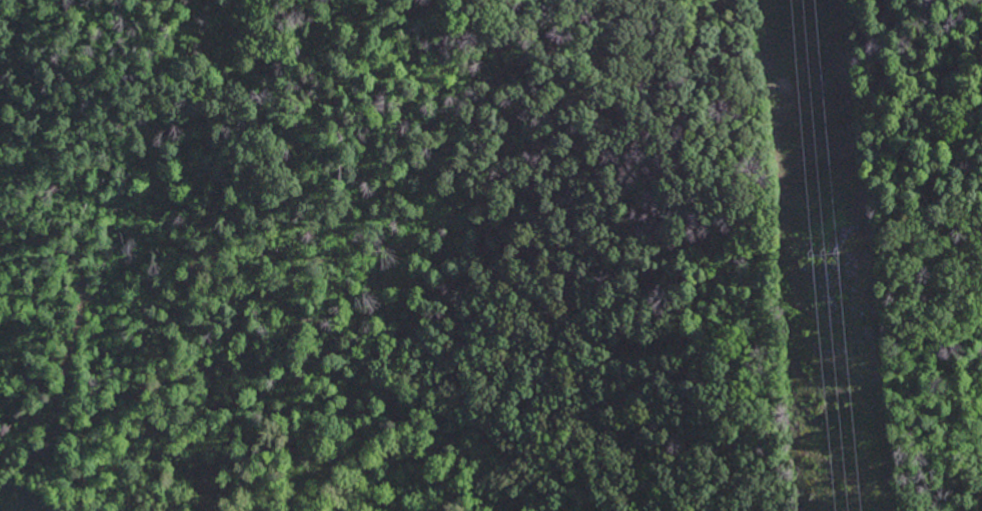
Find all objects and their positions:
power tower: (829, 251)

